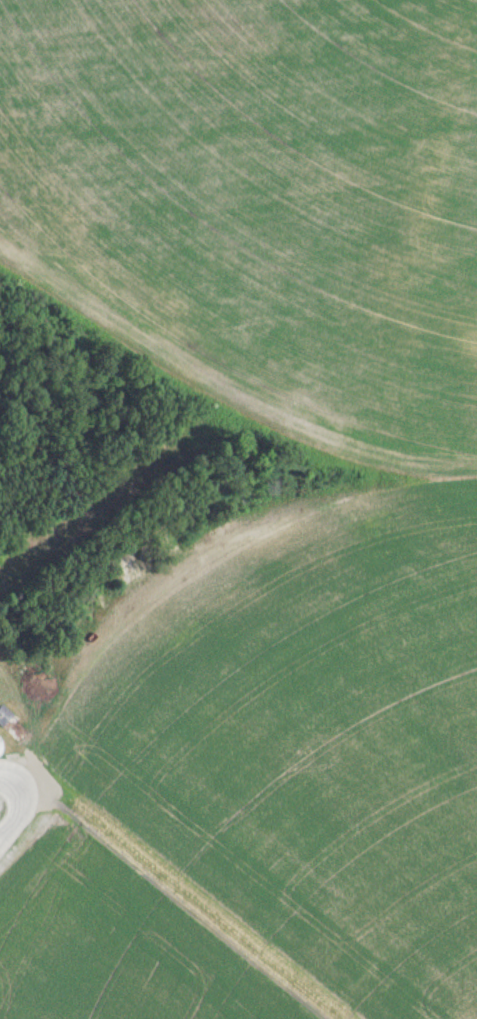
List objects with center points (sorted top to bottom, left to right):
wastewater plant: (238, 509)
road: (21, 806)

